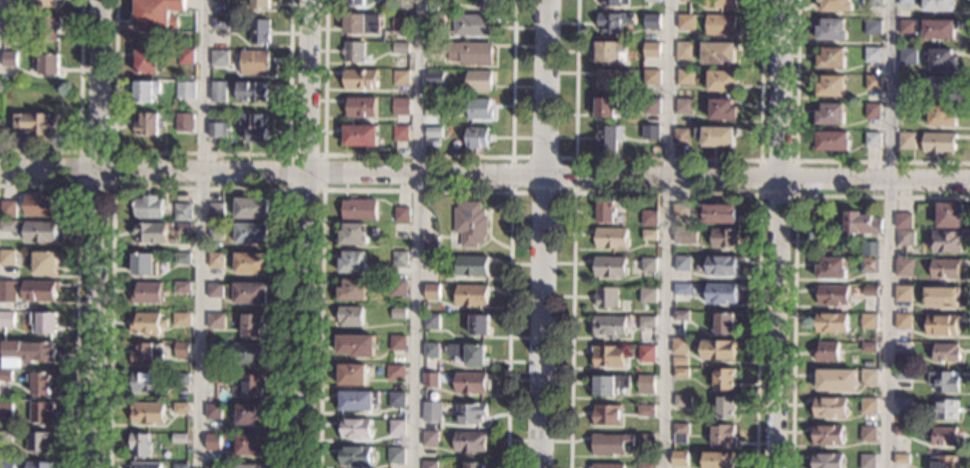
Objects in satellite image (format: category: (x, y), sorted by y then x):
building: (7, 0)
building: (652, 0)
building: (687, 0)
building: (220, 1)
building: (355, 2)
building: (485, 2)
building: (612, 2)
building: (45, 3)
building: (720, 3)
building: (874, 3)
building: (906, 3)
building: (261, 4)
building: (431, 5)
building: (836, 5)
building: (939, 5)
building: (158, 13)
building: (436, 19)
building: (652, 21)
building: (685, 21)
building: (11, 23)
building: (221, 23)
building: (362, 23)
building: (401, 23)
building: (614, 23)
building: (473, 25)
building: (721, 25)
building: (907, 26)
building: (873, 27)
building: (51, 28)
building: (939, 29)
building: (831, 30)
building: (260, 31)
building: (400, 47)
building: (437, 47)
building: (685, 49)
building: (651, 50)
building: (356, 52)
building: (469, 52)
building: (610, 52)
building: (719, 53)
building: (873, 54)
building: (186, 56)
building: (907, 56)
building: (220, 58)
building: (831, 58)
building: (10, 59)
building: (942, 59)
building: (147, 61)
building: (255, 62)
building: (49, 64)
building: (685, 76)
building: (652, 77)
building: (401, 78)
building: (435, 78)
building: (361, 79)
building: (611, 79)
building: (478, 80)
building: (722, 80)
building: (873, 82)
building: (906, 84)
building: (831, 86)
building: (942, 87)
building: (146, 90)
building: (186, 90)
building: (253, 91)
building: (218, 92)
building: (684, 105)
building: (400, 106)
building: (607, 106)
building: (652, 106)
building: (362, 107)
building: (480, 108)
building: (723, 109)
building: (872, 110)
building: (907, 111)
building: (830, 114)
road: (80, 115)
building: (941, 115)
building: (185, 117)
building: (38, 123)
building: (149, 124)
building: (255, 127)
building: (217, 129)
building: (433, 132)
building: (650, 132)
building: (400, 133)
building: (360, 135)
building: (716, 136)
building: (476, 137)
building: (681, 137)
building: (607, 138)
building: (872, 140)
building: (906, 140)
building: (832, 141)
building: (938, 142)
road: (202, 153)
road: (419, 155)
road: (668, 159)
road: (803, 160)
road: (485, 177)
road: (113, 187)
road: (200, 188)
road: (324, 188)
road: (415, 190)
road: (573, 191)
road: (664, 194)
road: (794, 196)
building: (41, 205)
building: (148, 207)
building: (251, 208)
building: (8, 209)
building: (359, 209)
building: (216, 210)
building: (680, 211)
building: (183, 212)
building: (606, 212)
building: (721, 214)
building: (402, 215)
building: (949, 215)
building: (649, 218)
building: (903, 220)
building: (862, 223)
building: (470, 224)
building: (8, 226)
building: (184, 228)
building: (216, 230)
building: (400, 231)
building: (40, 232)
road: (95, 233)
building: (150, 233)
road: (200, 233)
building: (252, 233)
road: (308, 233)
road: (416, 233)
road: (540, 233)
road: (666, 233)
road: (778, 233)
building: (353, 234)
road: (887, 234)
building: (649, 235)
building: (684, 235)
building: (724, 237)
building: (611, 238)
building: (905, 238)
building: (945, 242)
building: (430, 244)
road: (794, 244)
building: (870, 248)
building: (7, 257)
building: (182, 258)
building: (216, 259)
building: (399, 259)
building: (432, 260)
building: (251, 262)
building: (354, 262)
building: (45, 263)
building: (682, 263)
building: (144, 264)
building: (648, 264)
building: (470, 265)
building: (869, 265)
building: (609, 266)
building: (721, 266)
building: (831, 268)
building: (904, 268)
building: (945, 268)
road: (77, 287)
building: (183, 288)
building: (398, 288)
building: (682, 289)
building: (353, 290)
building: (39, 291)
building: (215, 291)
building: (432, 291)
building: (870, 291)
building: (8, 292)
building: (248, 292)
building: (148, 293)
building: (721, 293)
building: (903, 293)
building: (471, 295)
building: (648, 295)
building: (832, 295)
building: (942, 296)
building: (605, 297)
building: (398, 313)
building: (350, 315)
building: (680, 315)
building: (7, 319)
building: (182, 319)
building: (431, 320)
building: (216, 321)
building: (646, 321)
building: (869, 321)
building: (904, 321)
building: (44, 322)
building: (831, 322)
building: (148, 323)
building: (724, 323)
building: (252, 324)
building: (479, 325)
building: (942, 325)
building: (609, 326)
building: (398, 343)
building: (357, 345)
building: (680, 346)
building: (868, 347)
building: (902, 347)
building: (215, 348)
building: (719, 349)
building: (182, 350)
building: (430, 350)
building: (826, 351)
building: (31, 352)
building: (148, 353)
building: (248, 353)
building: (469, 353)
building: (646, 353)
building: (946, 353)
building: (607, 356)
building: (680, 361)
building: (868, 363)
building: (395, 372)
building: (681, 372)
building: (352, 374)
building: (903, 374)
building: (6, 375)
building: (869, 377)
building: (182, 379)
building: (215, 379)
building: (430, 379)
building: (724, 379)
building: (837, 380)
building: (944, 381)
building: (148, 382)
building: (42, 383)
building: (470, 383)
building: (608, 384)
building: (646, 384)
building: (250, 385)
building: (396, 399)
building: (358, 400)
building: (682, 400)
building: (904, 402)
building: (431, 406)
building: (869, 406)
building: (6, 407)
building: (726, 407)
building: (830, 407)
building: (181, 408)
building: (645, 410)
building: (947, 410)
building: (214, 411)
building: (43, 412)
building: (148, 413)
building: (469, 413)
building: (250, 415)
building: (606, 415)
building: (397, 427)
building: (356, 428)
building: (901, 430)
building: (680, 433)
building: (868, 434)
building: (723, 435)
building: (828, 435)
building: (943, 435)
building: (6, 436)
building: (179, 438)
building: (429, 438)
building: (645, 439)
building: (40, 442)
building: (213, 442)
building: (470, 442)
building: (611, 444)
building: (140, 445)
building: (249, 445)
building: (396, 455)
building: (356, 456)
building: (679, 459)
building: (901, 459)
building: (718, 460)
building: (868, 460)
building: (828, 461)
building: (944, 461)
building: (8, 464)
building: (429, 464)
building: (39, 465)
building: (145, 465)
building: (473, 465)
building: (646, 465)
building: (180, 466)
building: (247, 466)
building: (607, 466)
building: (214, 467)

